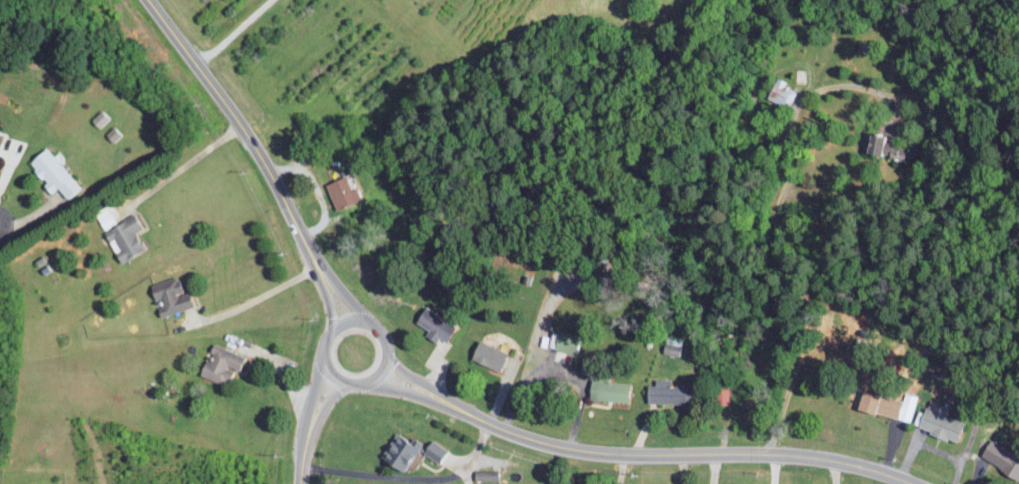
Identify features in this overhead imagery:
road: (234, 32)
building: (780, 91)
building: (98, 118)
road: (244, 128)
building: (0, 134)
building: (882, 145)
road: (184, 164)
building: (52, 173)
building: (340, 191)
road: (11, 218)
building: (120, 233)
road: (774, 240)
road: (344, 292)
building: (168, 295)
road: (258, 296)
road: (329, 299)
building: (434, 324)
road: (377, 328)
building: (563, 343)
building: (672, 344)
building: (488, 353)
building: (219, 363)
road: (560, 367)
road: (401, 370)
road: (391, 389)
building: (607, 390)
building: (666, 392)
road: (313, 395)
building: (889, 404)
road: (325, 406)
building: (939, 420)
road: (931, 446)
building: (433, 450)
building: (398, 451)
road: (660, 453)
building: (1001, 457)
road: (305, 458)
road: (713, 468)
road: (773, 469)
road: (836, 472)
building: (484, 474)
road: (411, 477)

